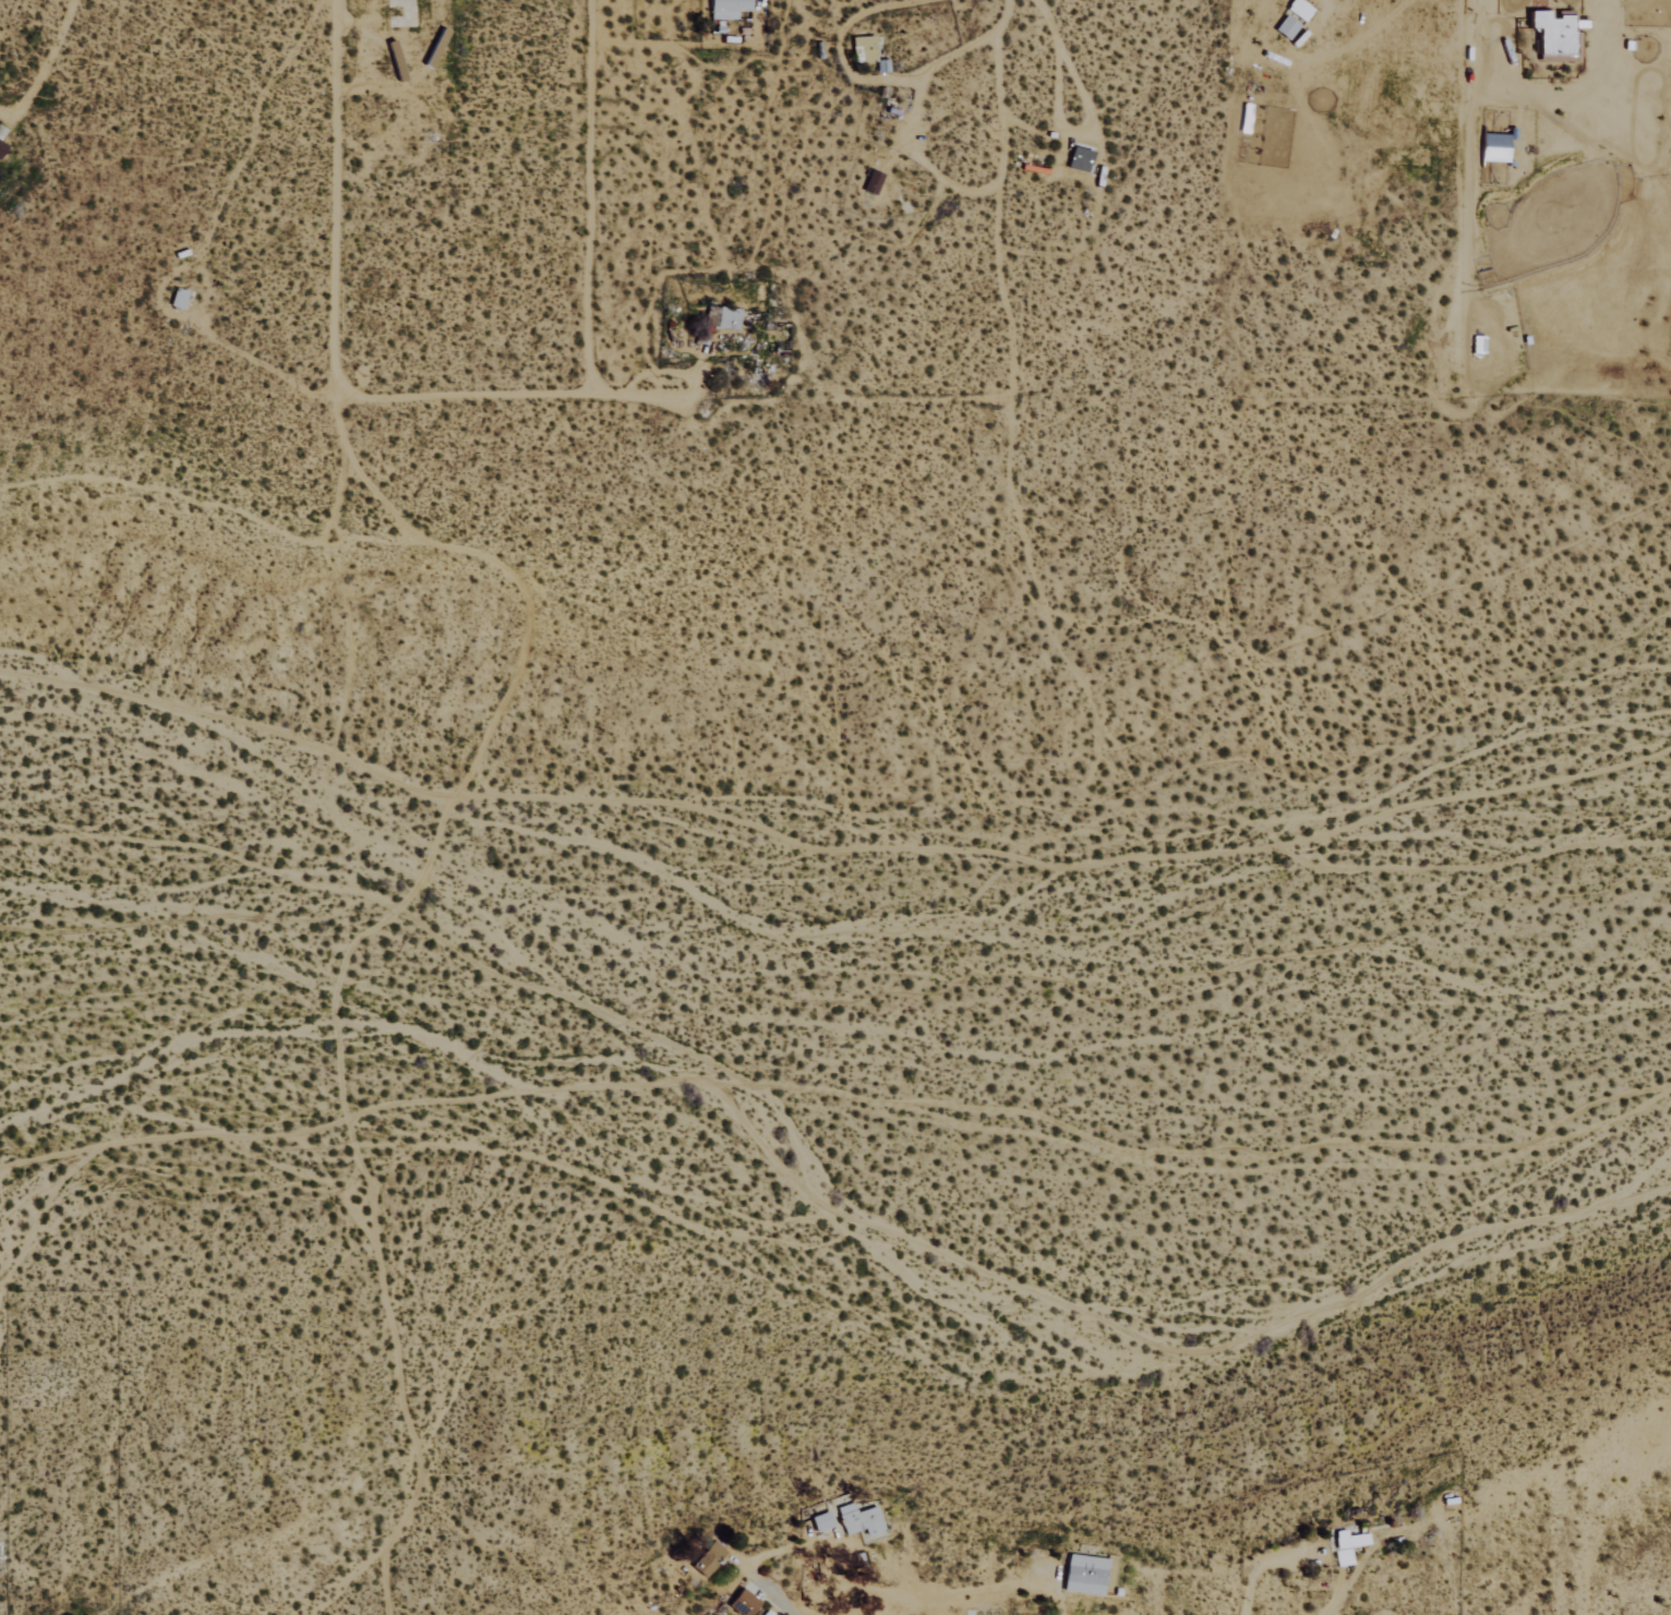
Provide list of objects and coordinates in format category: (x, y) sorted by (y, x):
building: (726, 9)
building: (1286, 27)
building: (1553, 33)
building: (865, 47)
road: (880, 77)
building: (1494, 147)
building: (1079, 159)
building: (871, 183)
road: (334, 198)
building: (728, 318)
road: (473, 395)
building: (858, 1520)
building: (820, 1522)
building: (1346, 1546)
building: (707, 1558)
building: (1084, 1575)
building: (743, 1603)

